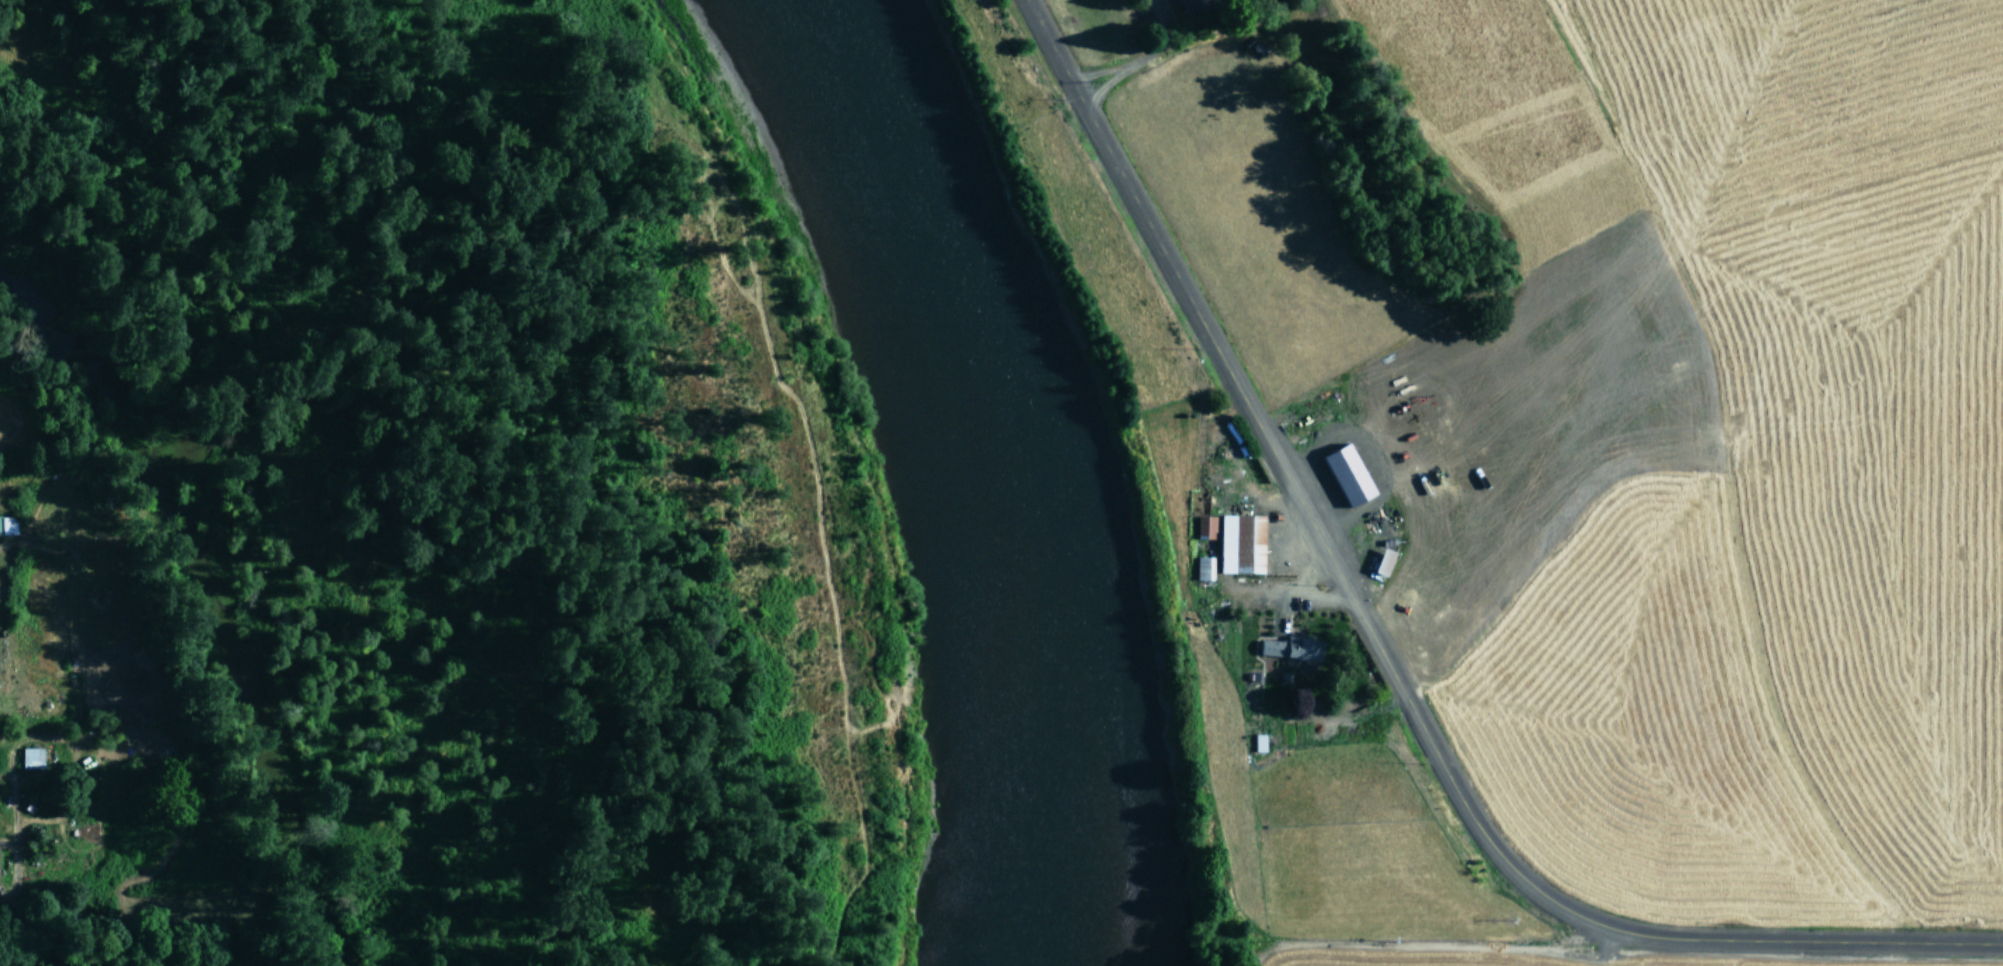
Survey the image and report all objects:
building: (1192, 5)
crop: (1541, 455)
river: (994, 465)
building: (1349, 475)
building: (8, 525)
building: (1206, 526)
building: (1243, 544)
building: (1386, 561)
building: (1205, 567)
building: (1294, 647)
road: (1380, 660)
building: (1260, 742)
crop: (70, 751)
building: (33, 757)

